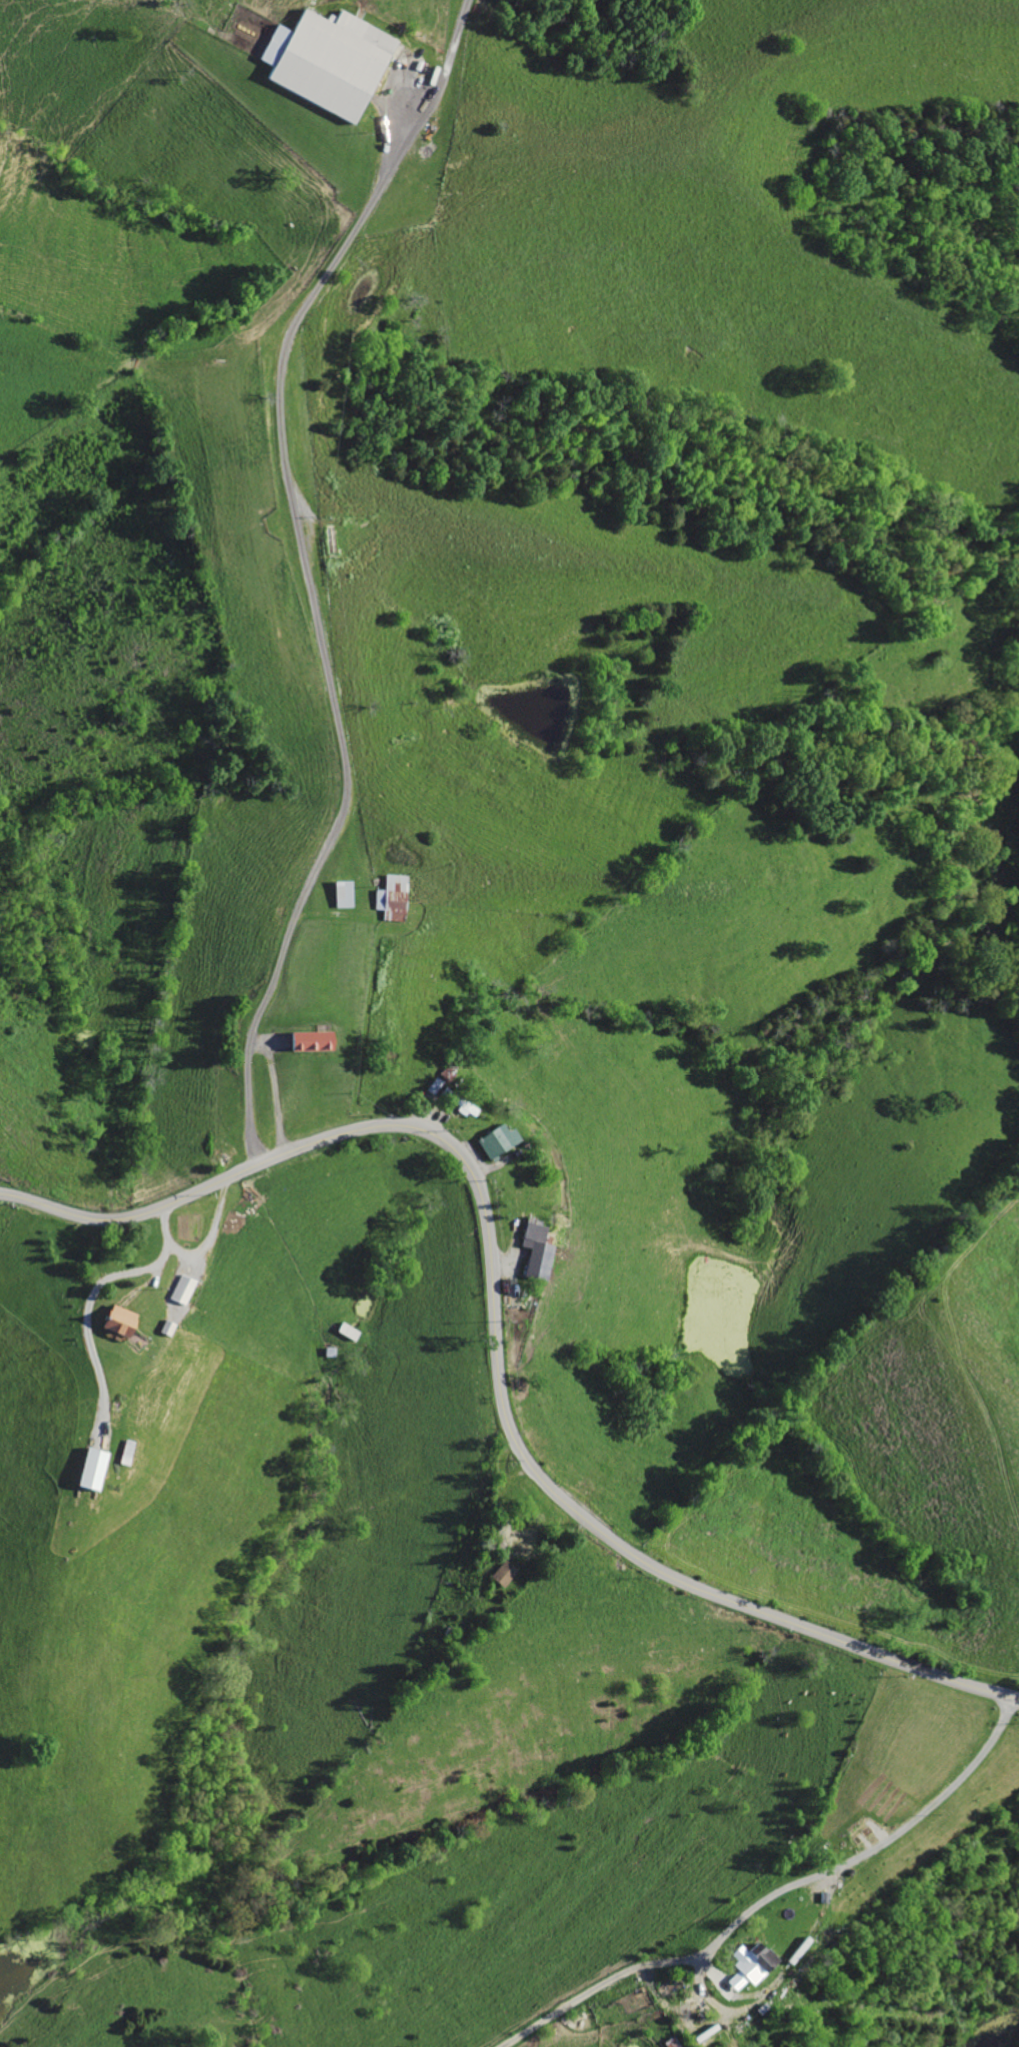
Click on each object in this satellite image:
building: (332, 62)
road: (307, 569)
building: (395, 897)
building: (314, 1040)
building: (500, 1140)
building: (540, 1251)
building: (184, 1288)
road: (494, 1343)
building: (95, 1468)
building: (505, 1573)
road: (772, 1895)
building: (756, 1965)

